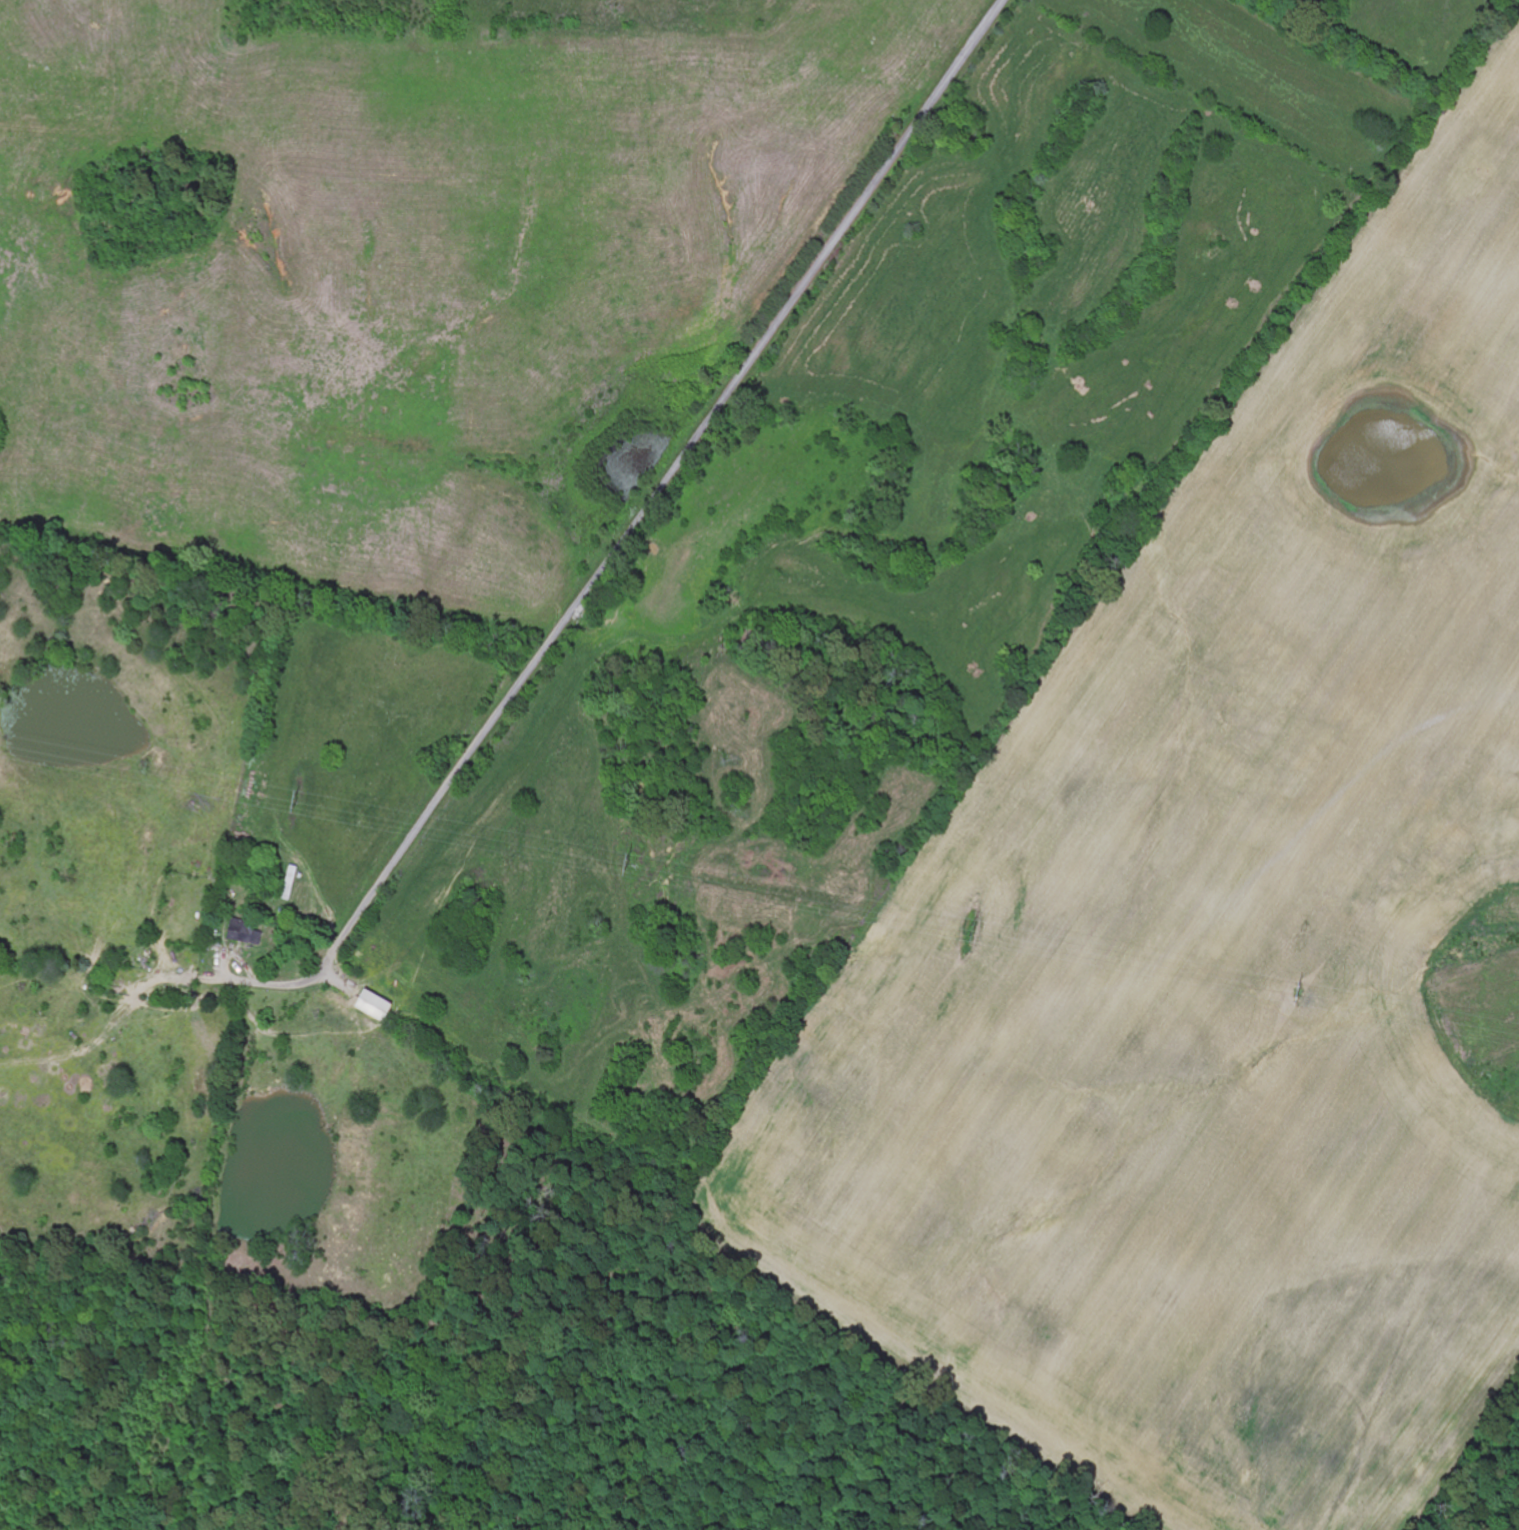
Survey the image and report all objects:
road: (636, 523)
power tower: (299, 805)
power tower: (628, 867)
power tower: (966, 937)
power tower: (1298, 994)
building: (377, 1006)

